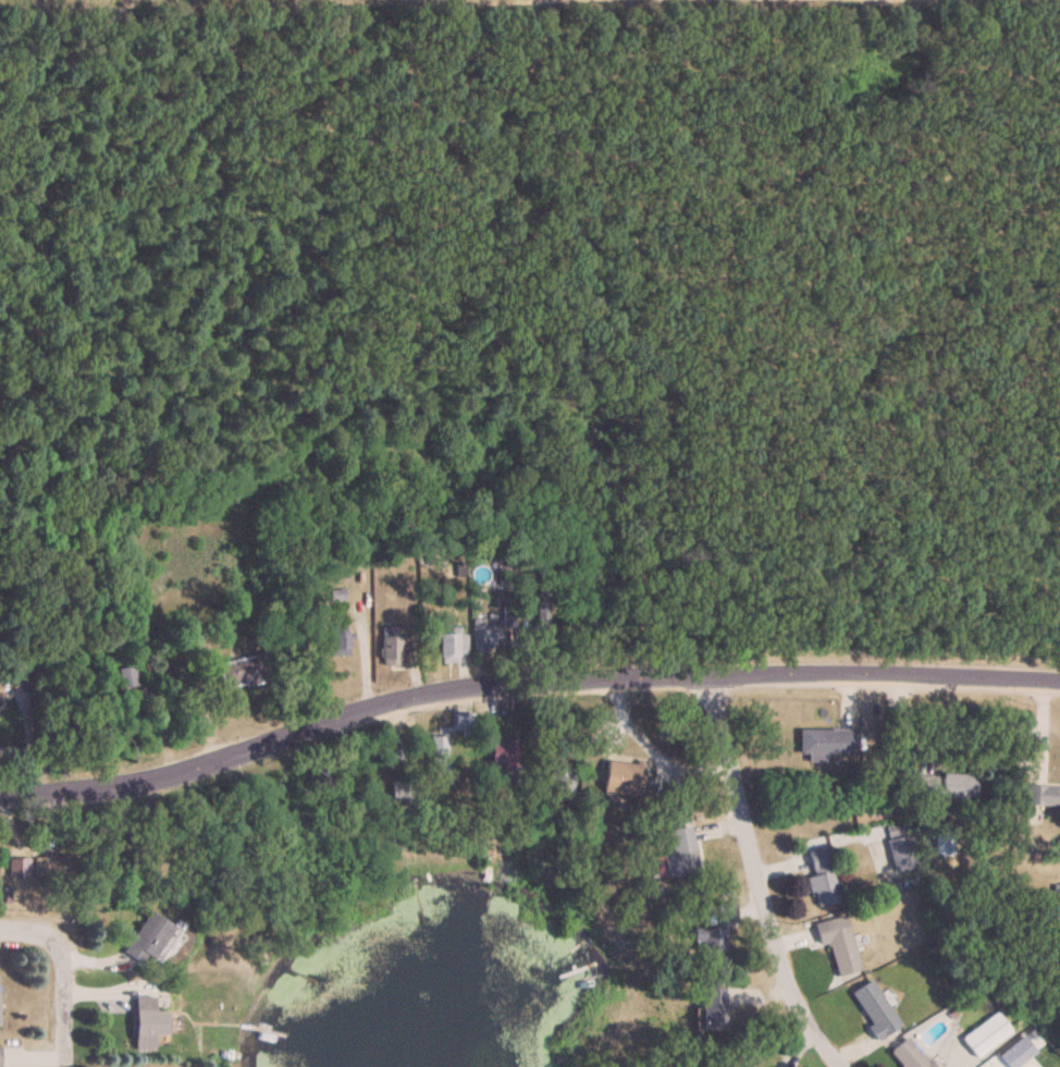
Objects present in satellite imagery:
building: (484, 636)
building: (341, 639)
building: (449, 643)
building: (390, 645)
building: (242, 671)
building: (126, 675)
road: (522, 683)
building: (0, 696)
building: (463, 724)
building: (825, 741)
road: (650, 750)
building: (439, 751)
building: (504, 755)
building: (558, 769)
building: (620, 777)
building: (946, 786)
building: (404, 792)
building: (1043, 796)
building: (678, 851)
building: (898, 853)
building: (52, 864)
building: (17, 866)
road: (755, 876)
building: (821, 878)
road: (20, 907)
building: (724, 911)
building: (708, 939)
building: (147, 940)
building: (837, 943)
road: (56, 988)
building: (713, 1008)
building: (873, 1009)
building: (146, 1022)
building: (984, 1034)
building: (1015, 1053)
building: (907, 1055)

